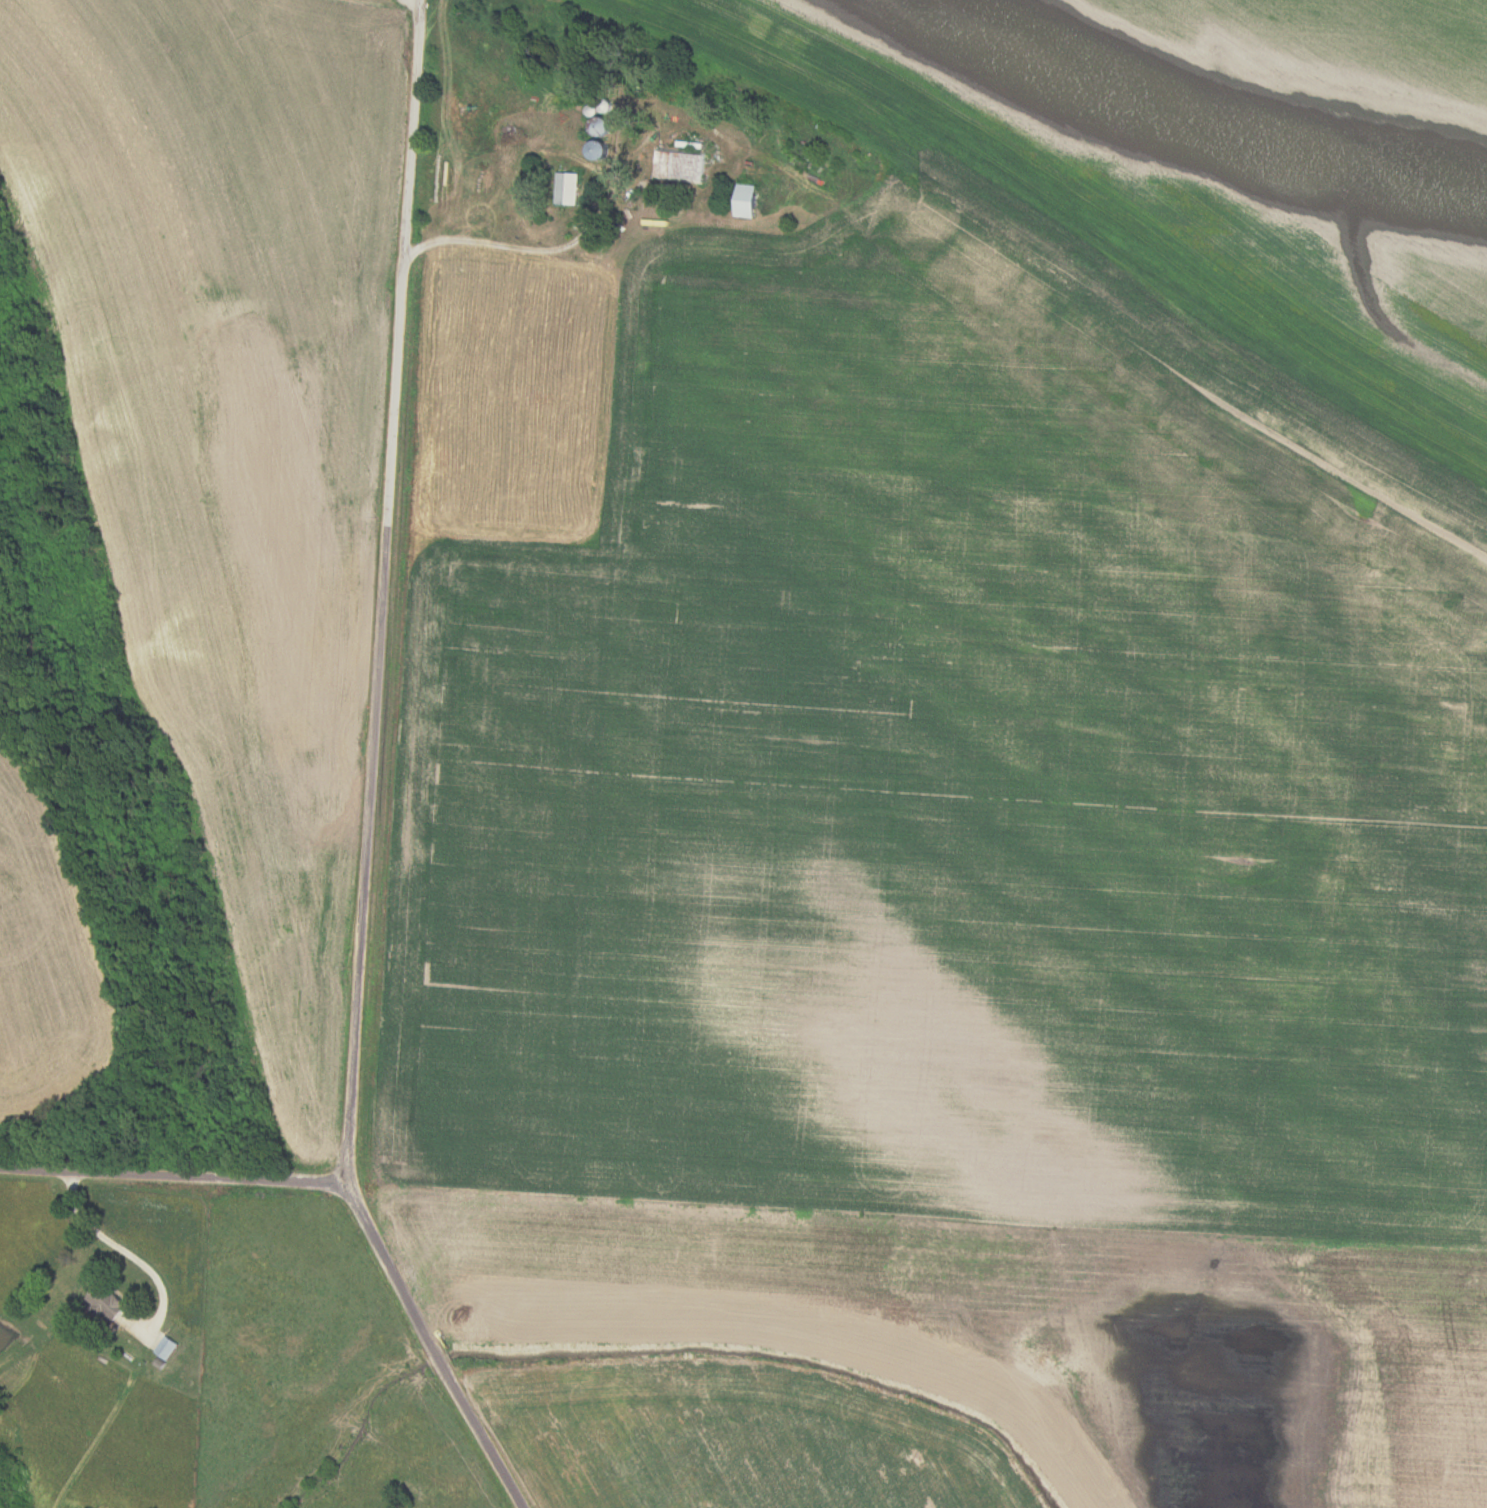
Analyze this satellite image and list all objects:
building: (679, 165)
crop: (1202, 171)
building: (565, 187)
building: (743, 199)
road: (525, 249)
crop: (225, 449)
road: (387, 590)
crop: (918, 756)
crop: (48, 960)
road: (172, 1172)
road: (121, 1250)
building: (104, 1302)
crop: (1023, 1336)
road: (439, 1342)
building: (165, 1347)
crop: (734, 1432)

